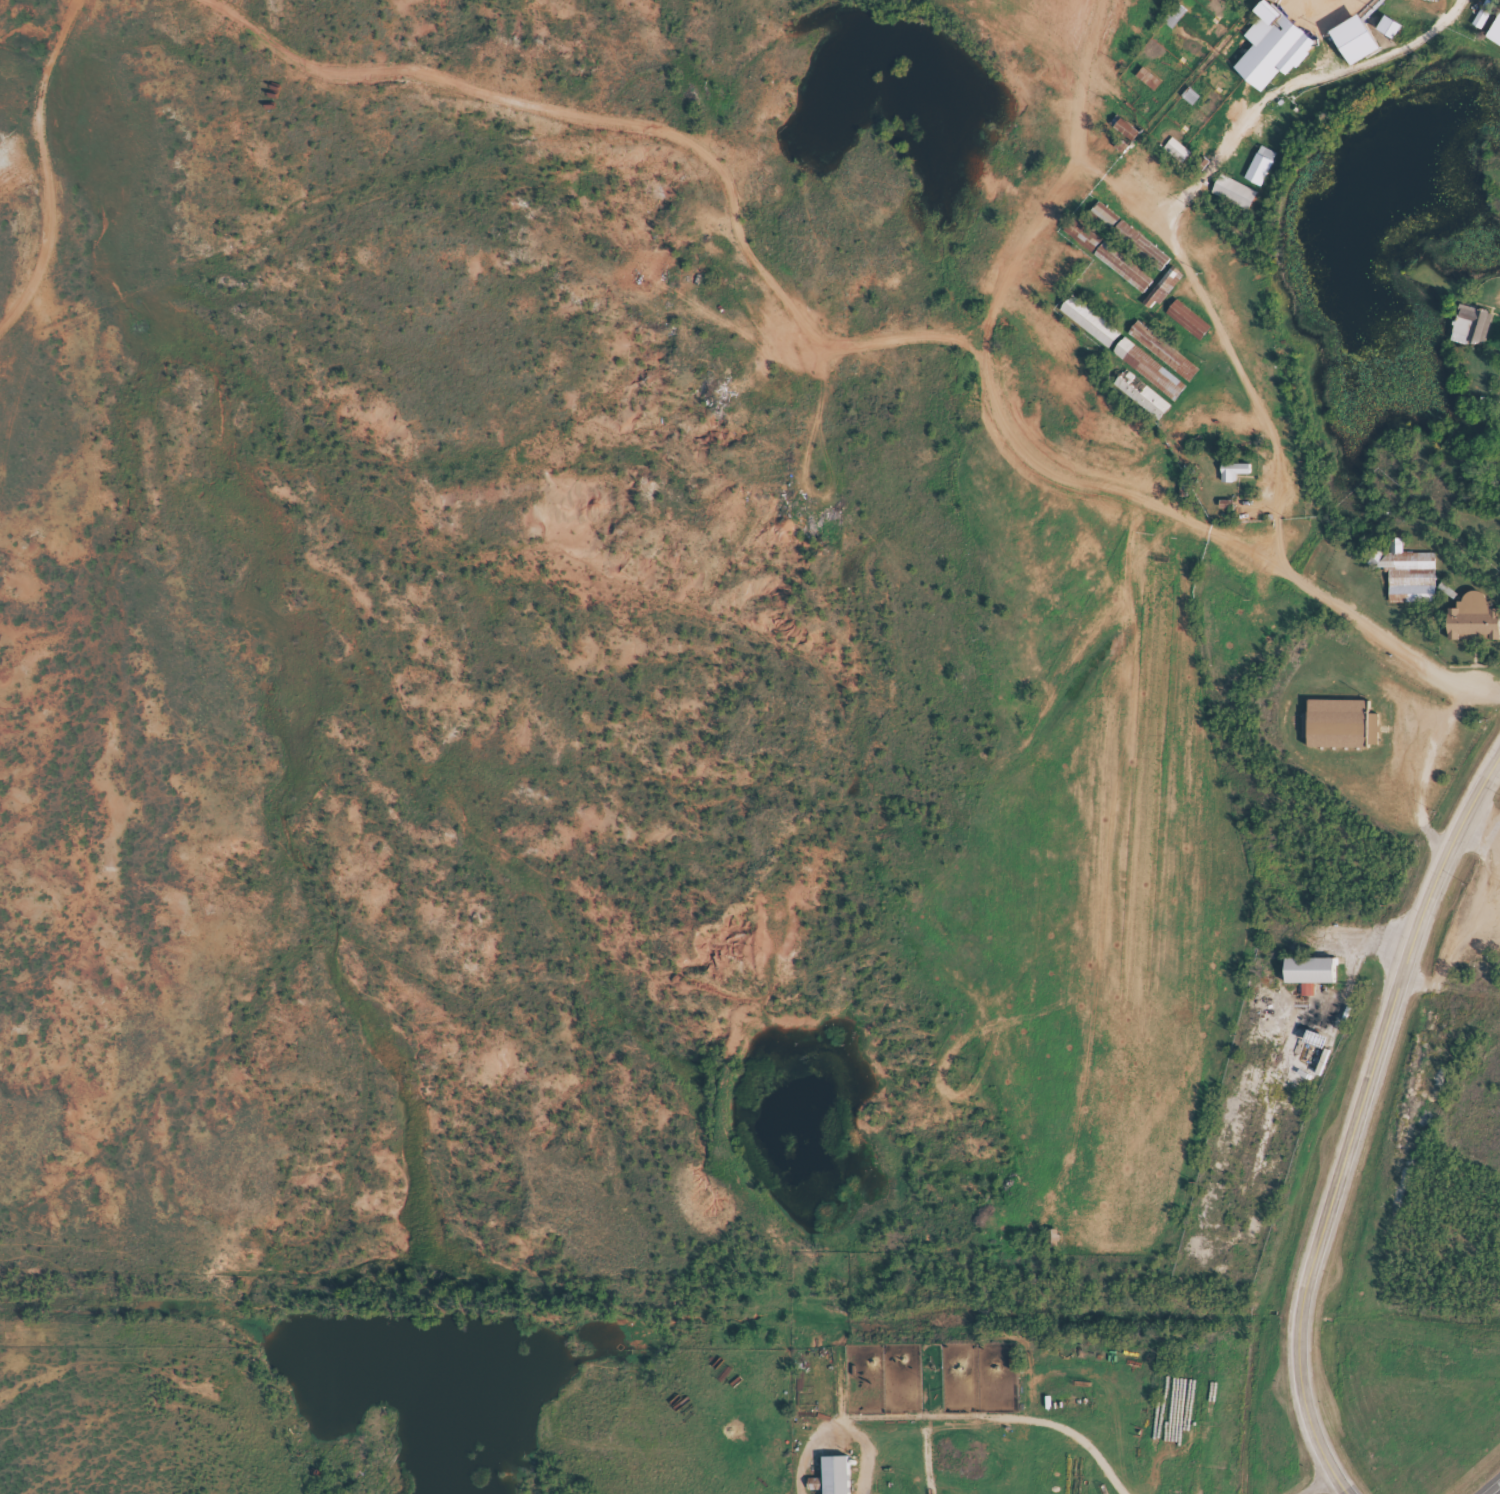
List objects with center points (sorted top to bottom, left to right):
building: (1480, 24)
building: (1388, 34)
building: (1495, 41)
building: (1354, 47)
building: (1272, 55)
road: (1084, 82)
building: (1147, 86)
road: (1293, 89)
building: (1123, 135)
building: (1175, 158)
road: (699, 161)
building: (1258, 173)
building: (1231, 200)
building: (1104, 222)
building: (1133, 242)
building: (1082, 243)
building: (1122, 275)
building: (1160, 297)
building: (1187, 327)
building: (1089, 329)
building: (1470, 333)
building: (1162, 359)
road: (1236, 370)
building: (1147, 377)
road: (8, 403)
building: (1141, 404)
building: (1232, 479)
building: (1406, 581)
building: (1473, 627)
building: (1339, 732)
road: (1115, 843)
building: (1309, 980)
road: (1448, 984)
road: (1352, 1120)
railway: (750, 1303)
building: (835, 1479)
road: (1330, 1491)

